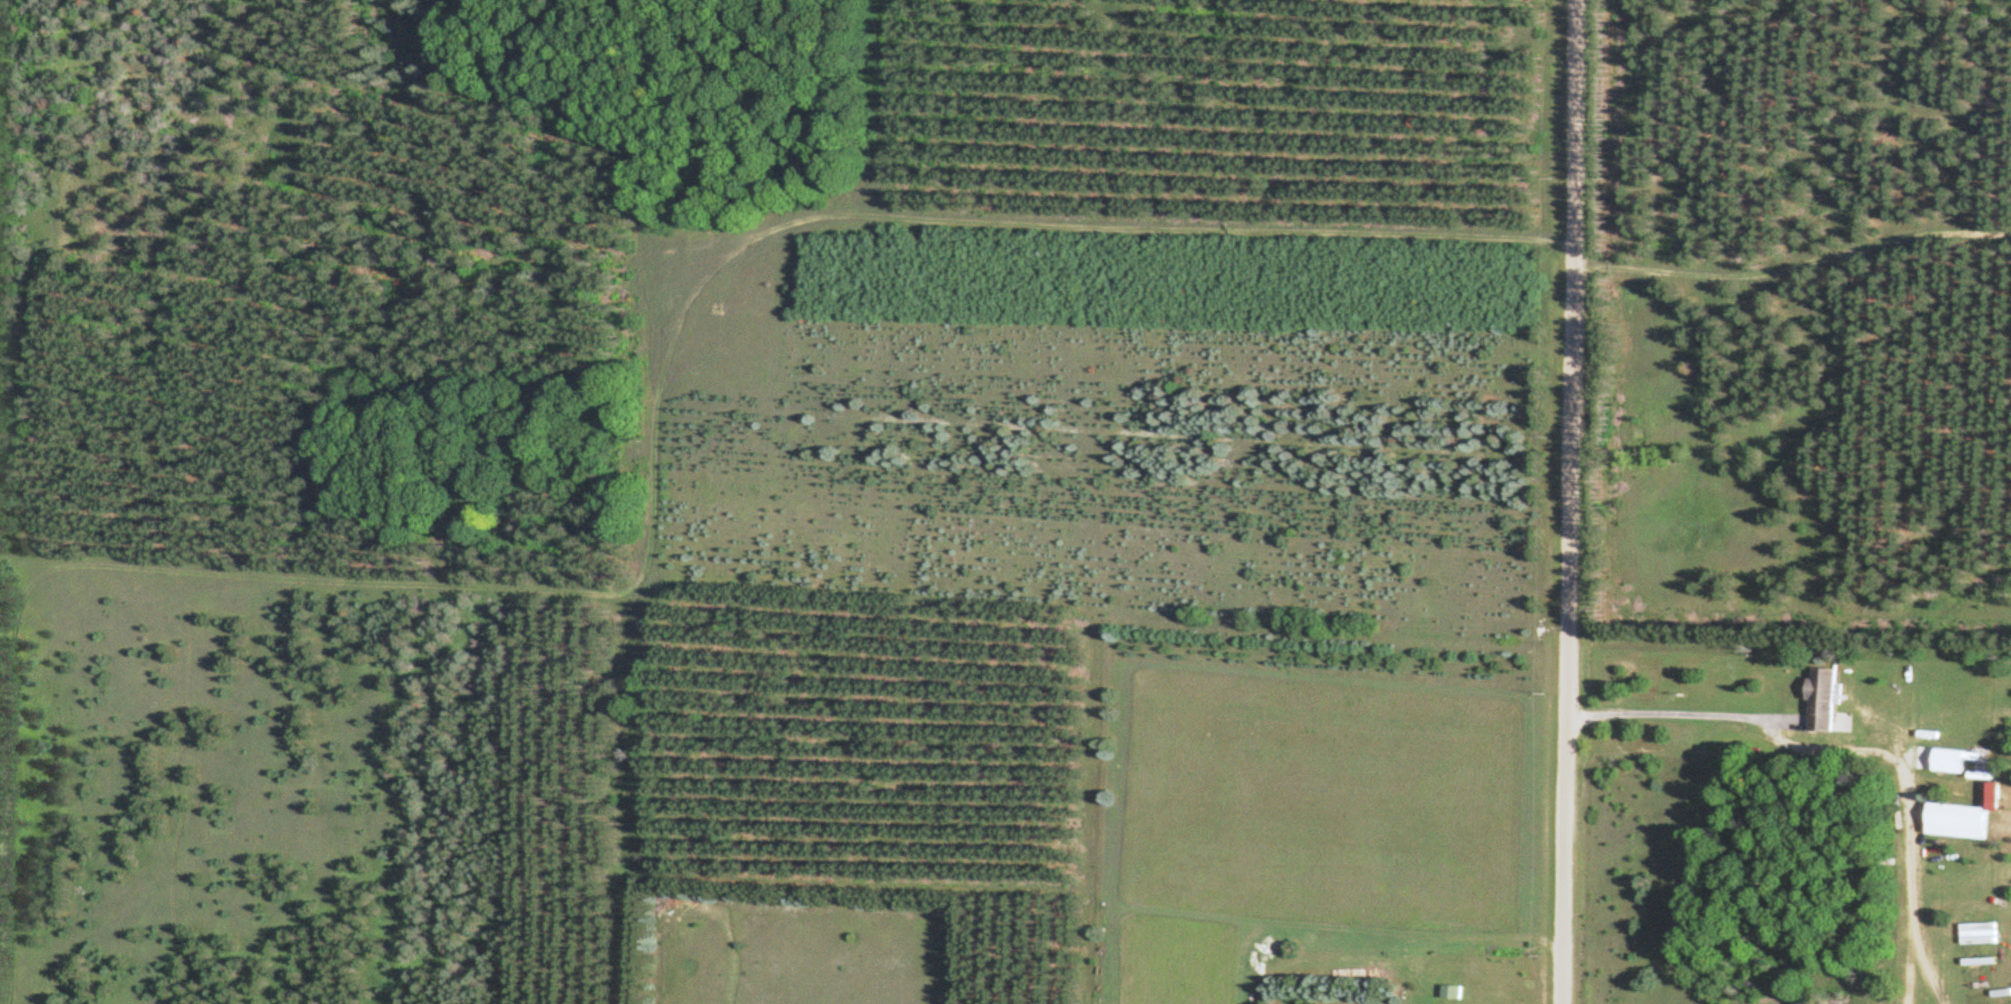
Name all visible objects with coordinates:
road: (1568, 502)
building: (1817, 700)
road: (1683, 715)
road: (1854, 751)
road: (2, 758)
building: (1949, 760)
building: (1953, 821)
road: (1910, 898)
building: (1976, 934)
road: (1909, 970)
building: (1450, 989)
road: (0, 991)

